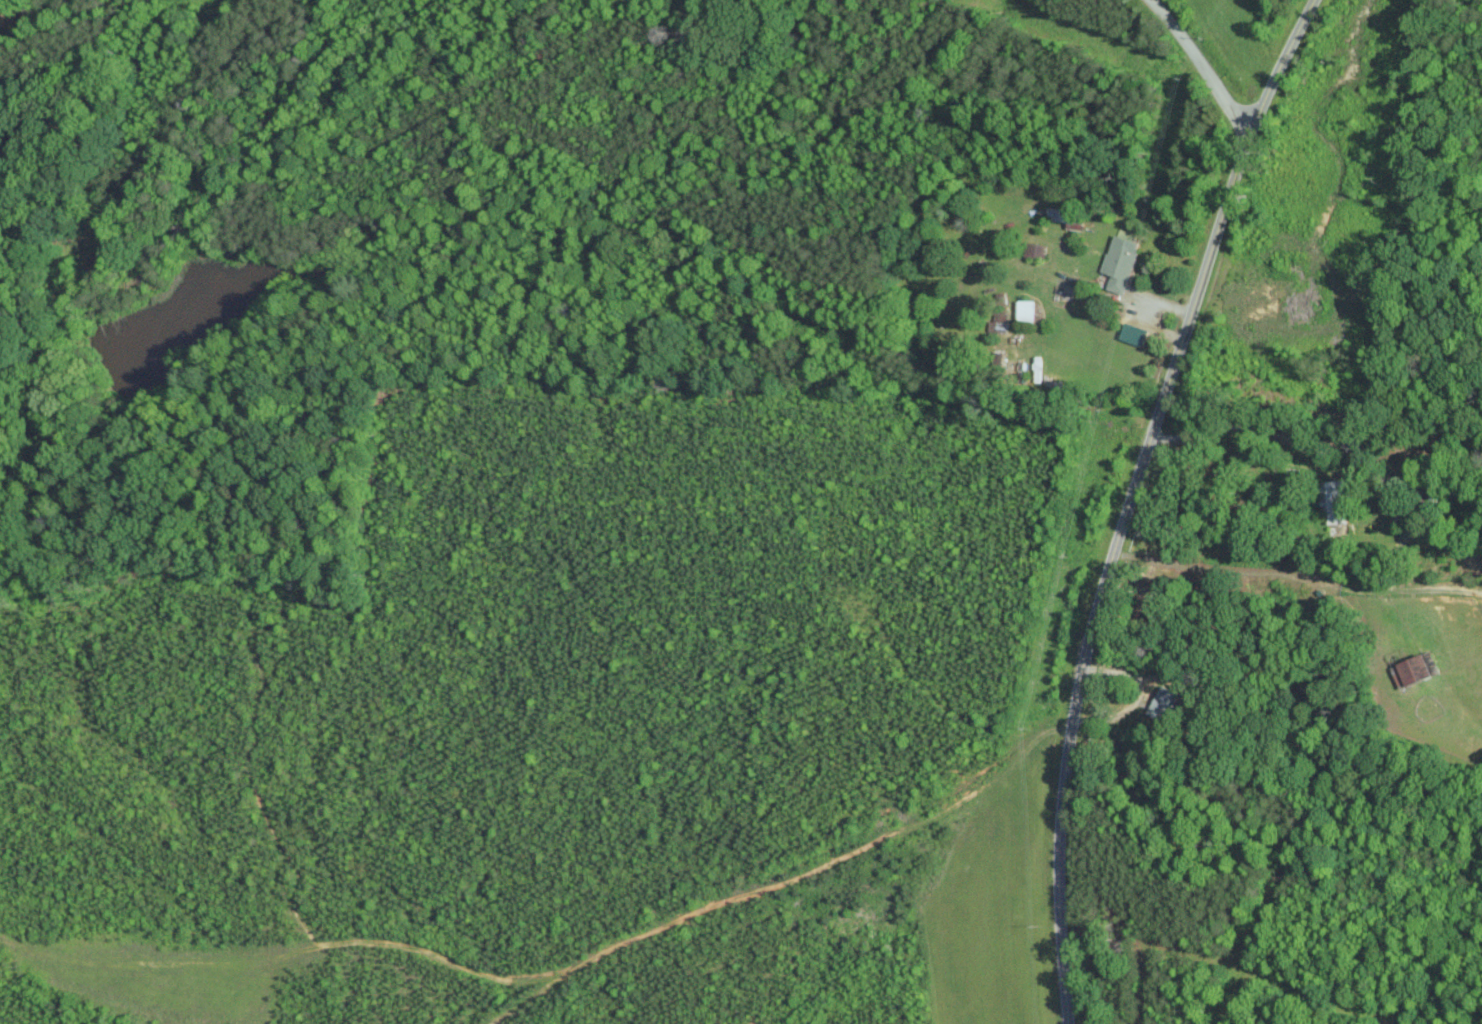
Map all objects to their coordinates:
road: (1198, 67)
road: (841, 73)
building: (1064, 215)
building: (1121, 262)
building: (1026, 310)
road: (1249, 428)
road: (1131, 499)
road: (1299, 573)
building: (1415, 670)
road: (1136, 694)
building: (1163, 703)

